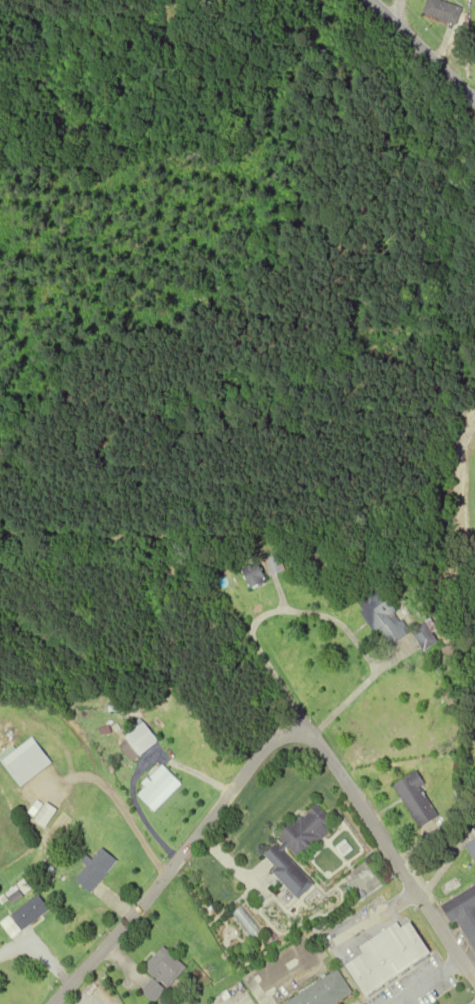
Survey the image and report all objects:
building: (444, 10)
road: (396, 11)
road: (421, 50)
building: (276, 565)
building: (256, 575)
building: (397, 621)
building: (135, 740)
building: (25, 762)
building: (158, 789)
building: (417, 799)
building: (298, 848)
building: (471, 848)
road: (388, 853)
road: (173, 862)
building: (95, 870)
building: (30, 912)
building: (463, 912)
building: (389, 958)
building: (161, 973)
building: (323, 992)

